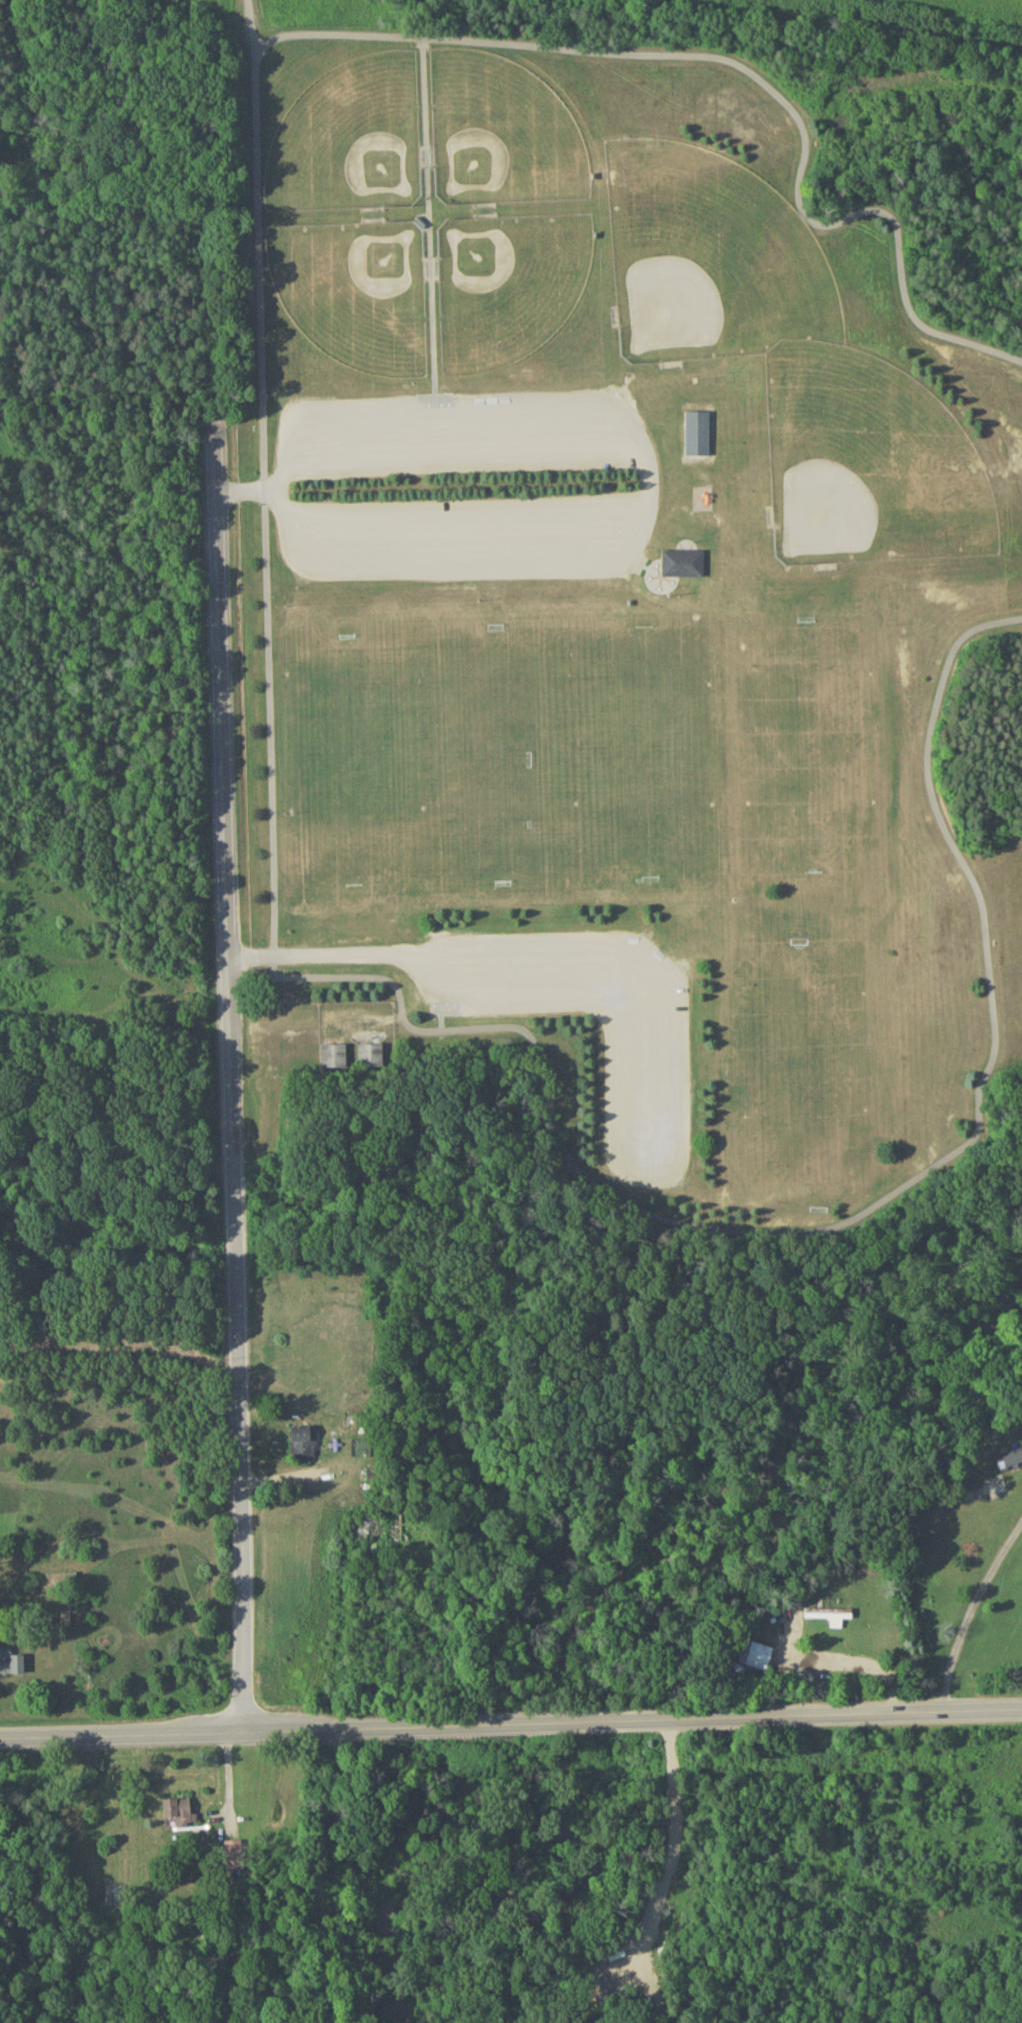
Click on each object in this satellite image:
airport: (968, 7)
road: (742, 72)
park: (502, 138)
park: (349, 143)
park: (708, 262)
park: (507, 290)
park: (355, 295)
building: (698, 437)
park: (868, 468)
parking lot: (459, 482)
parking lot: (442, 487)
road: (263, 491)
building: (684, 567)
building: (369, 1060)
building: (333, 1061)
road: (229, 1072)
road: (834, 1227)
building: (303, 1445)
building: (1011, 1458)
building: (363, 1532)
building: (70, 1583)
road: (968, 1612)
building: (829, 1619)
road: (859, 1648)
building: (760, 1661)
building: (12, 1666)
road: (511, 1728)
building: (179, 1817)
building: (232, 1855)

